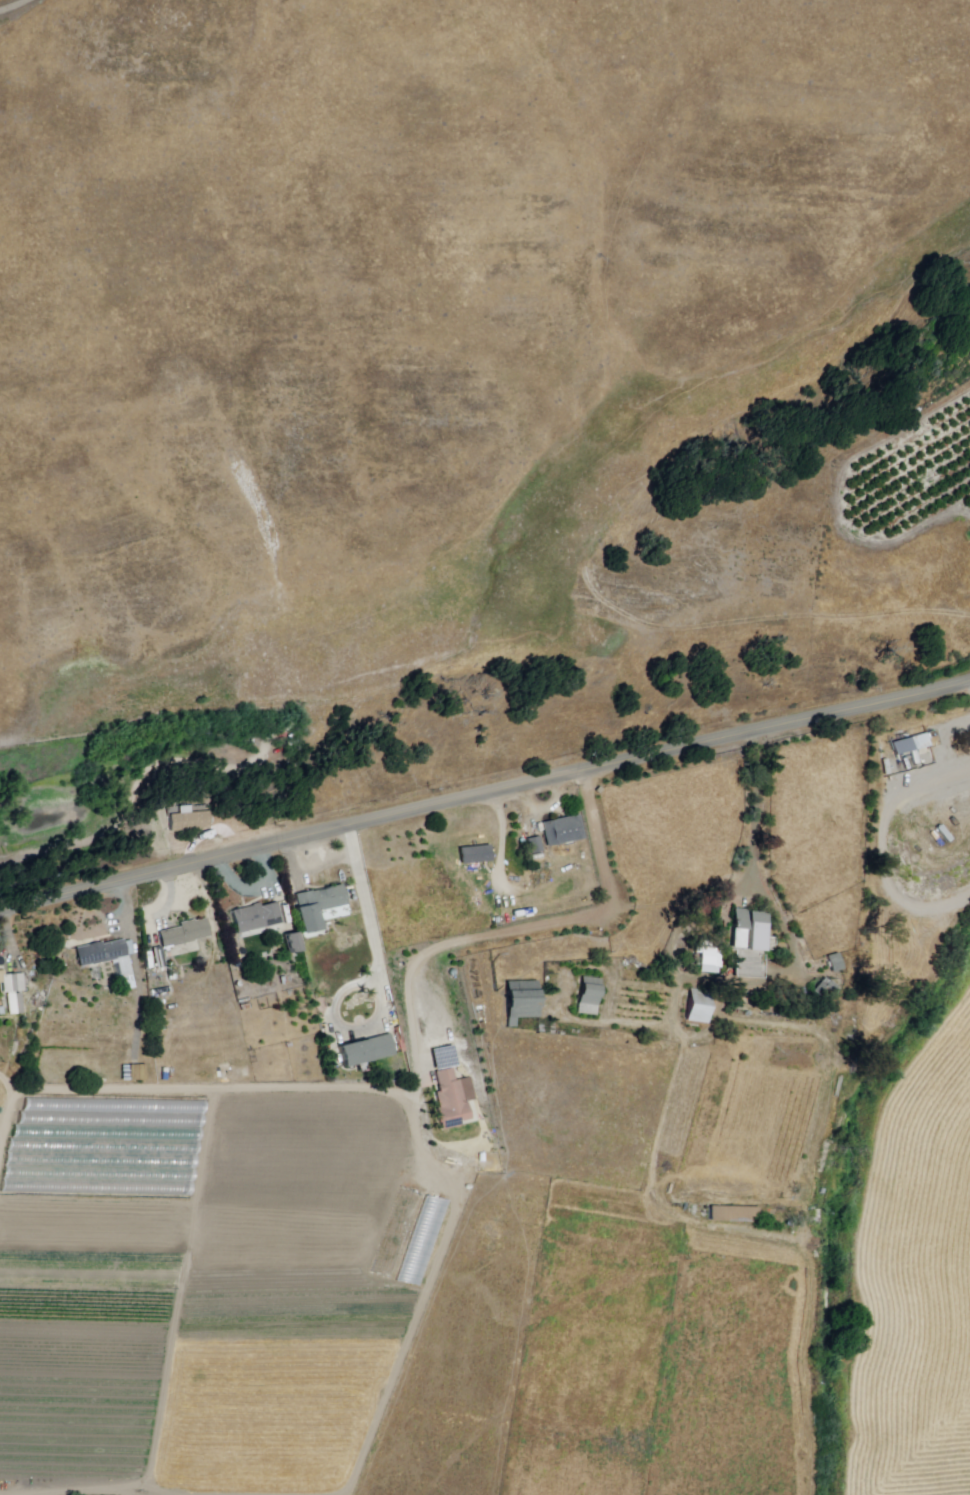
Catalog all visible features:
road: (13, 7)
building: (911, 746)
road: (484, 795)
building: (567, 832)
building: (536, 845)
building: (477, 855)
road: (755, 858)
building: (319, 907)
building: (257, 918)
building: (186, 933)
building: (751, 943)
building: (294, 944)
building: (106, 956)
building: (709, 957)
building: (837, 963)
road: (137, 968)
storage tank: (454, 974)
building: (13, 983)
road: (384, 983)
building: (827, 990)
building: (589, 994)
building: (521, 1000)
building: (698, 1004)
building: (16, 1005)
road: (603, 1021)
building: (369, 1052)
building: (139, 1074)
road: (214, 1091)
building: (452, 1102)
road: (12, 1116)
building: (109, 1118)
crop: (934, 1123)
crop: (2, 1126)
road: (815, 1148)
road: (456, 1176)
building: (734, 1212)
building: (411, 1236)
crop: (286, 1298)
crop: (87, 1304)
crop: (915, 1355)
crop: (600, 1358)

